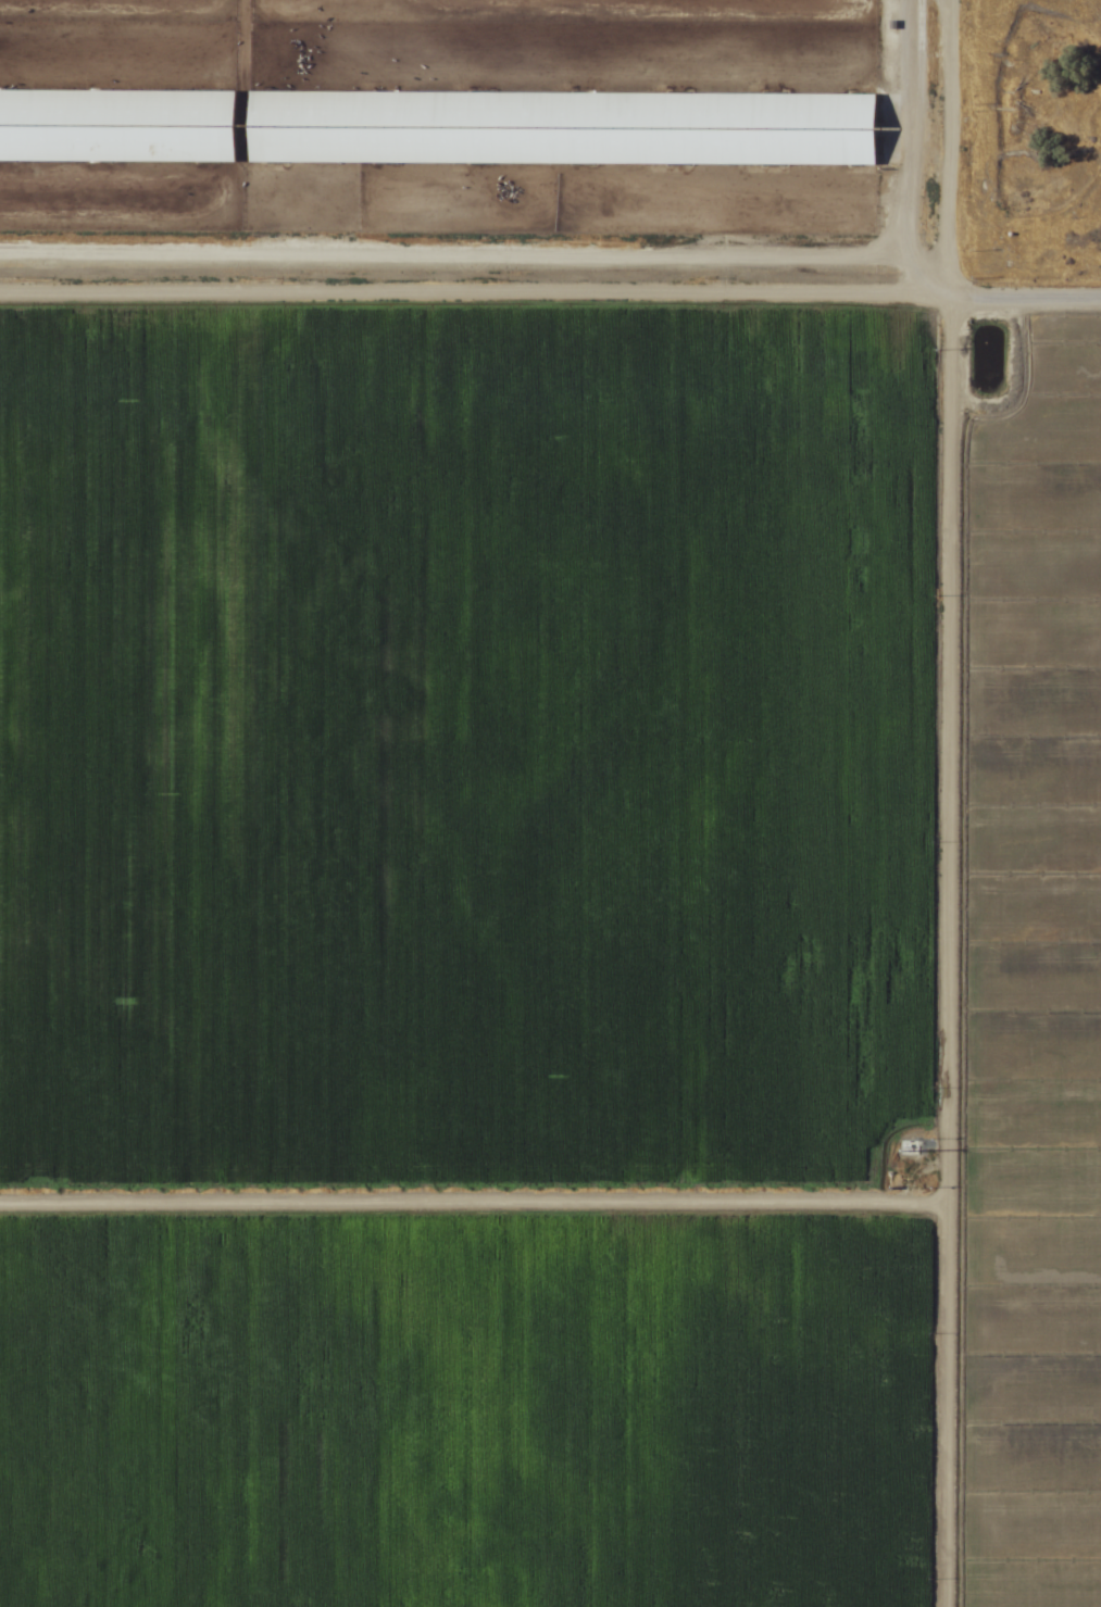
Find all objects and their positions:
building: (116, 127)
building: (560, 129)
road: (897, 131)
road: (554, 265)
road: (956, 953)

